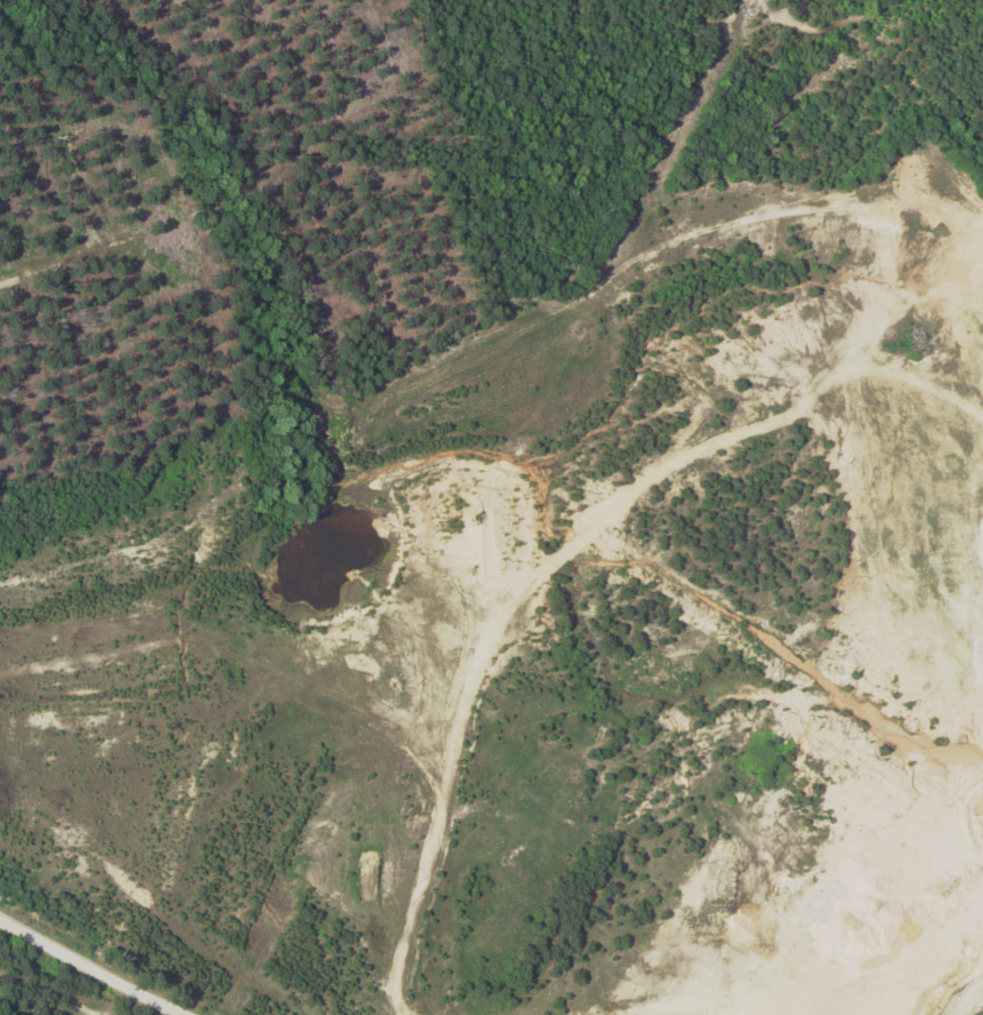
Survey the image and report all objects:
road: (91, 968)

